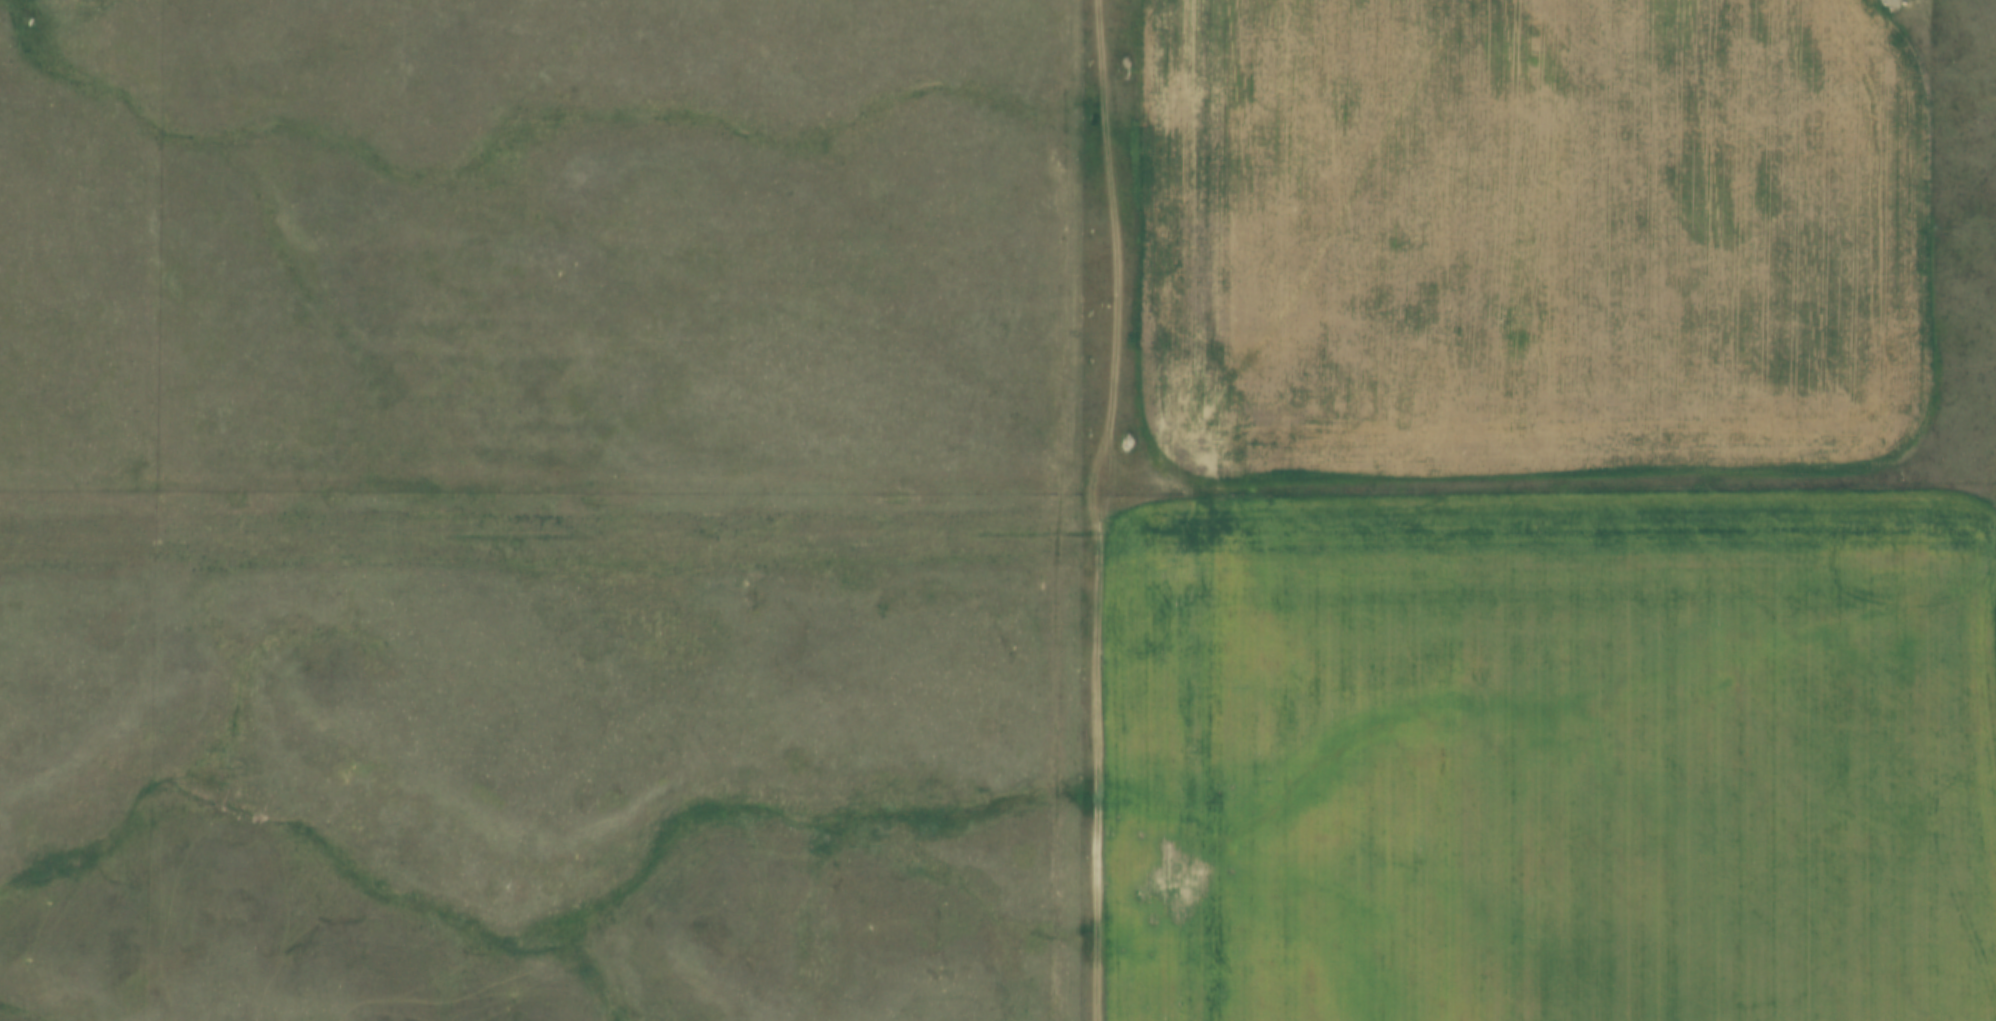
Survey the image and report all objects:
road: (1101, 509)

